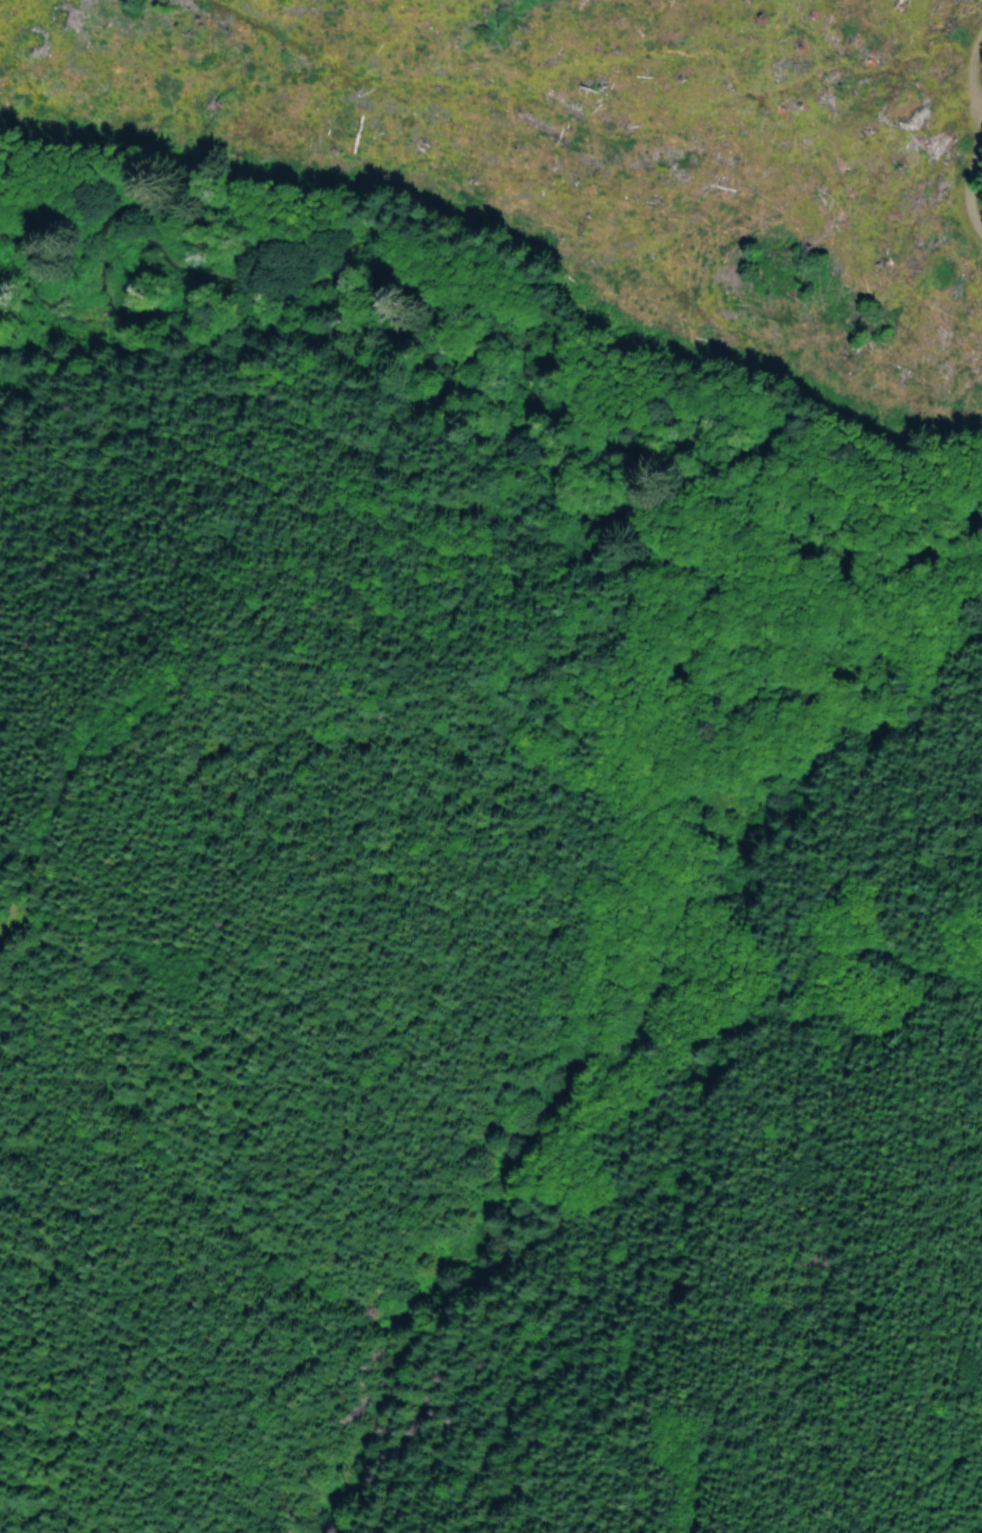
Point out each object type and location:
road: (957, 225)

